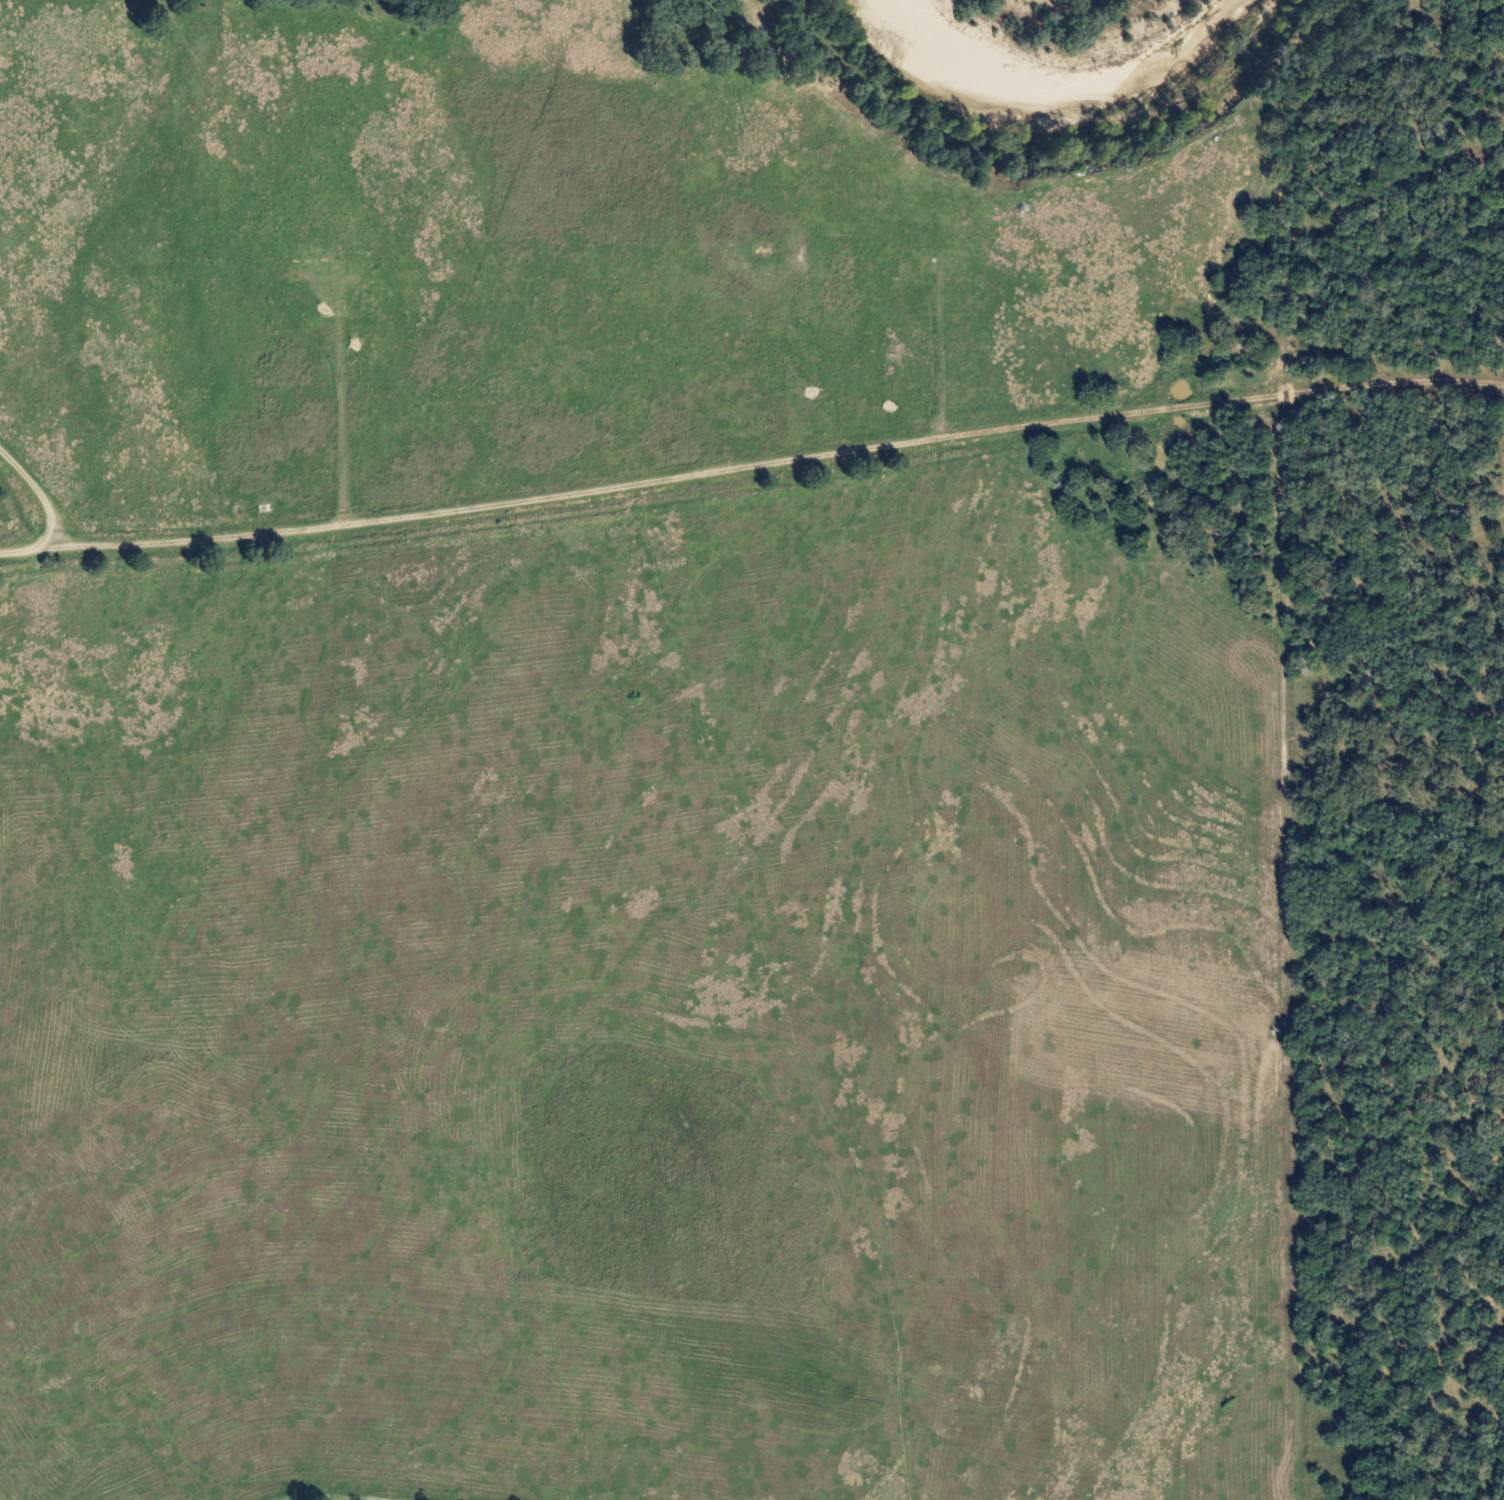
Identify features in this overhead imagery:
road: (784, 460)
road: (36, 493)
road: (32, 546)

